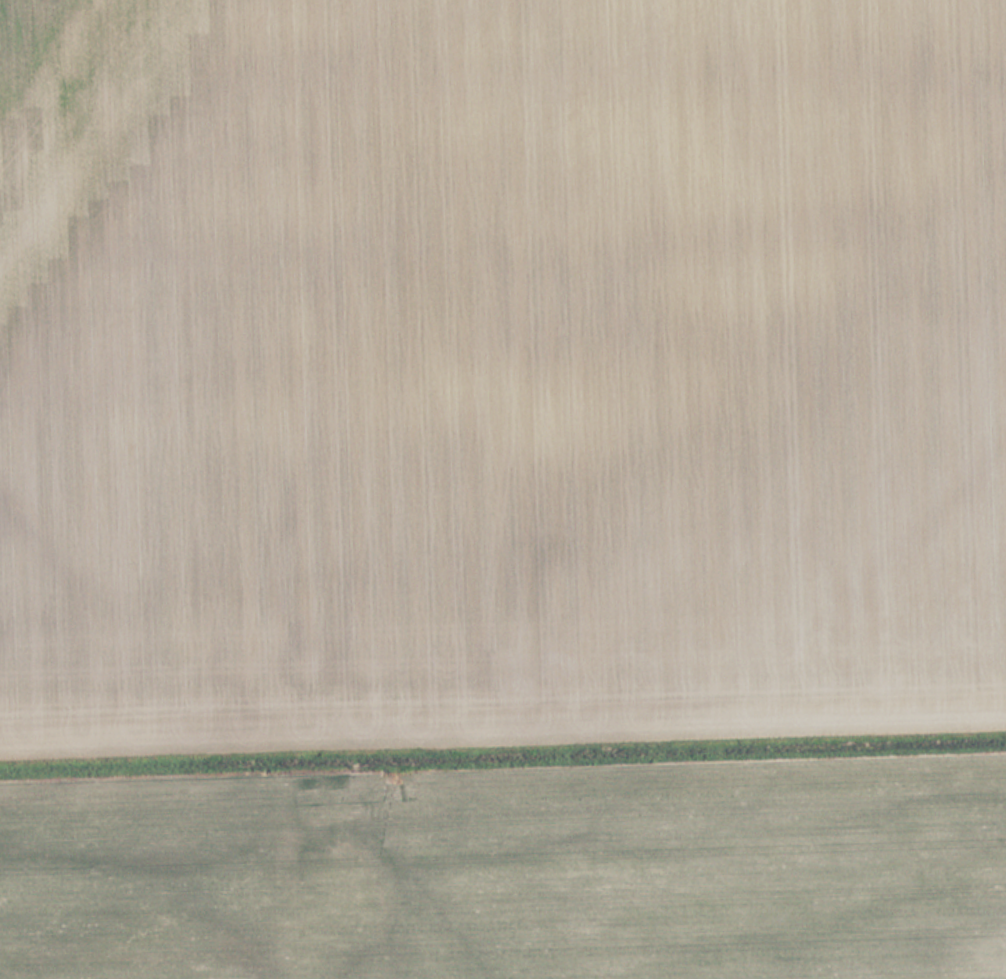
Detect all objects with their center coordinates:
road: (286, 908)

